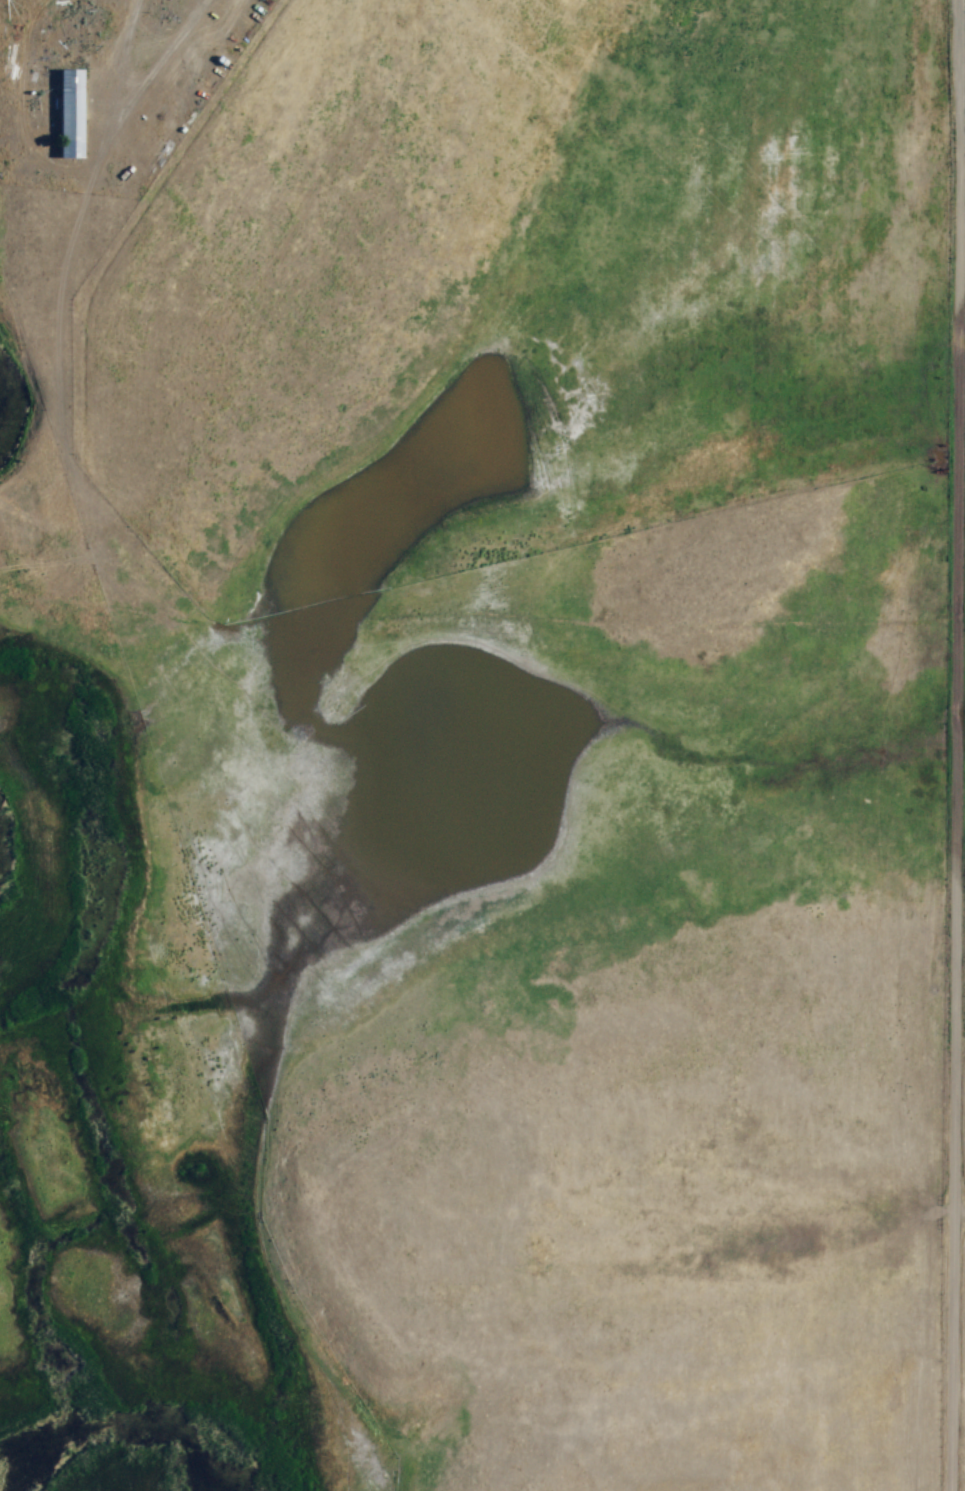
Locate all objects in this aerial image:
building: (66, 113)
road: (960, 745)

